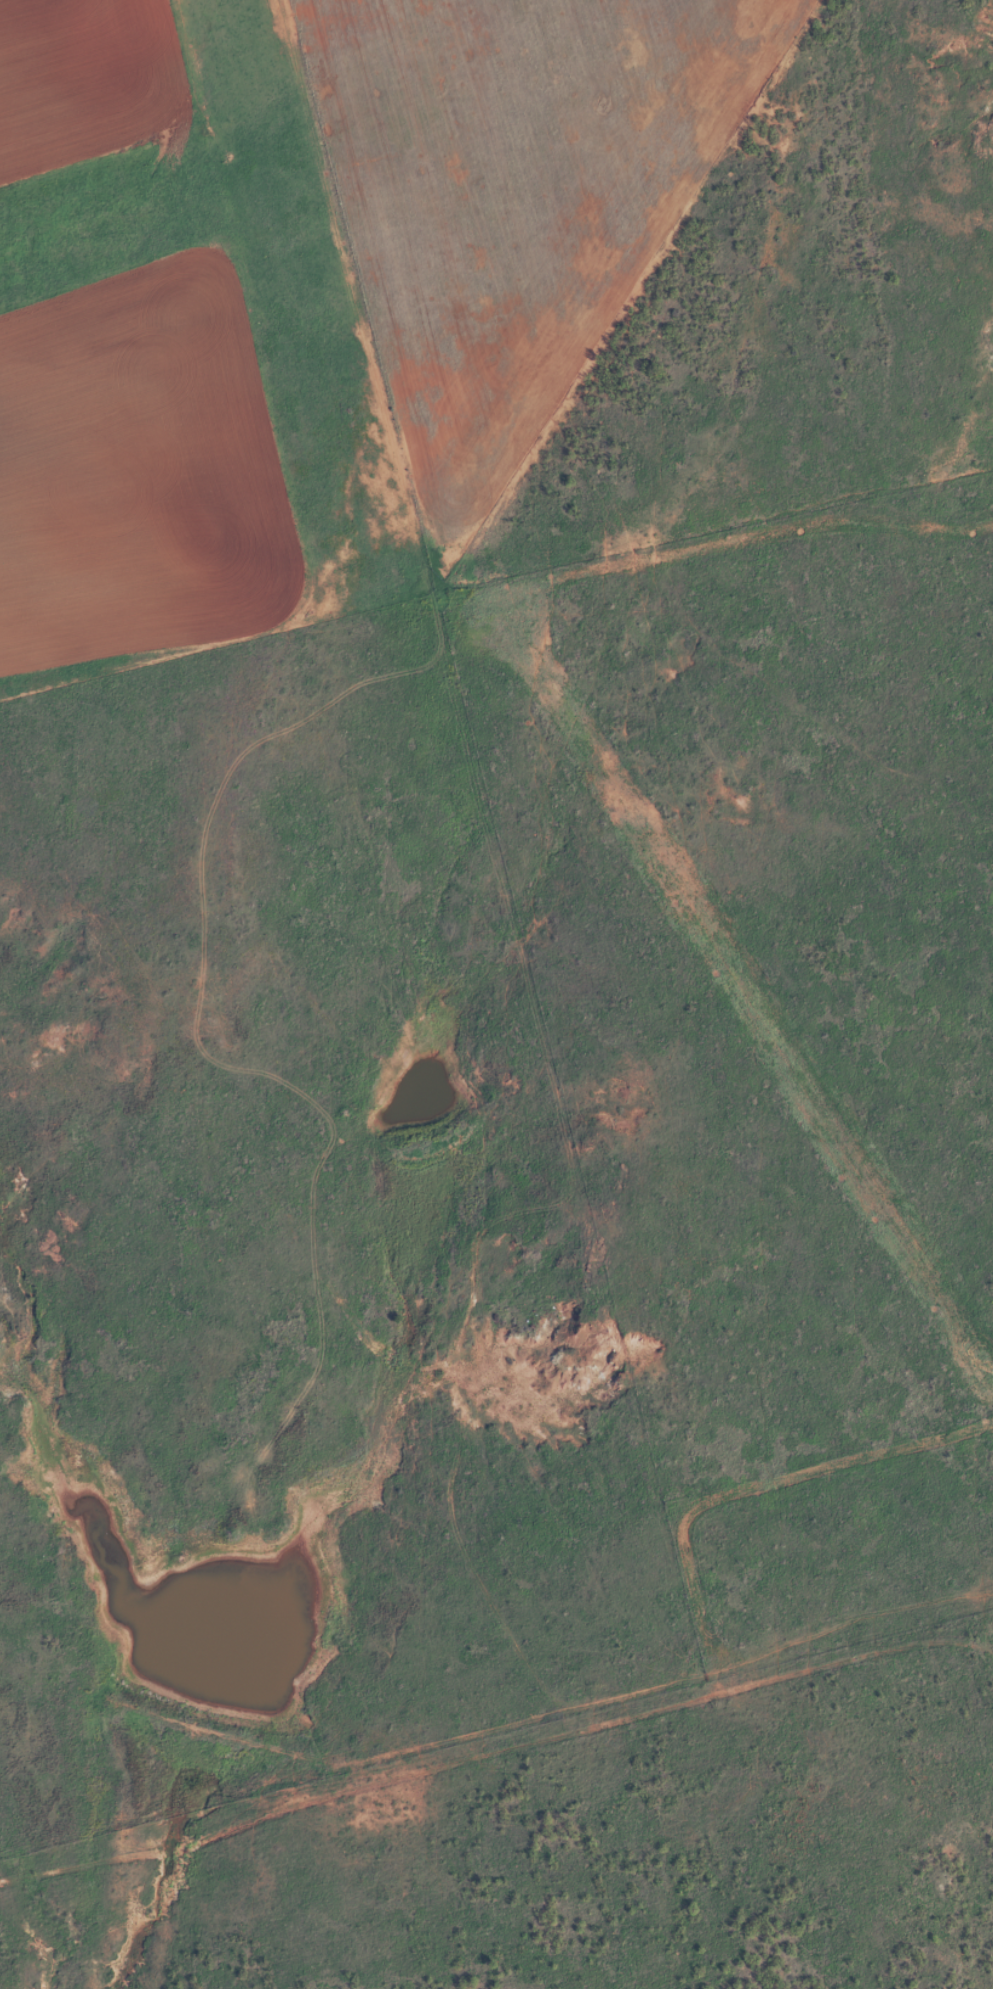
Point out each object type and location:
road: (295, 681)

